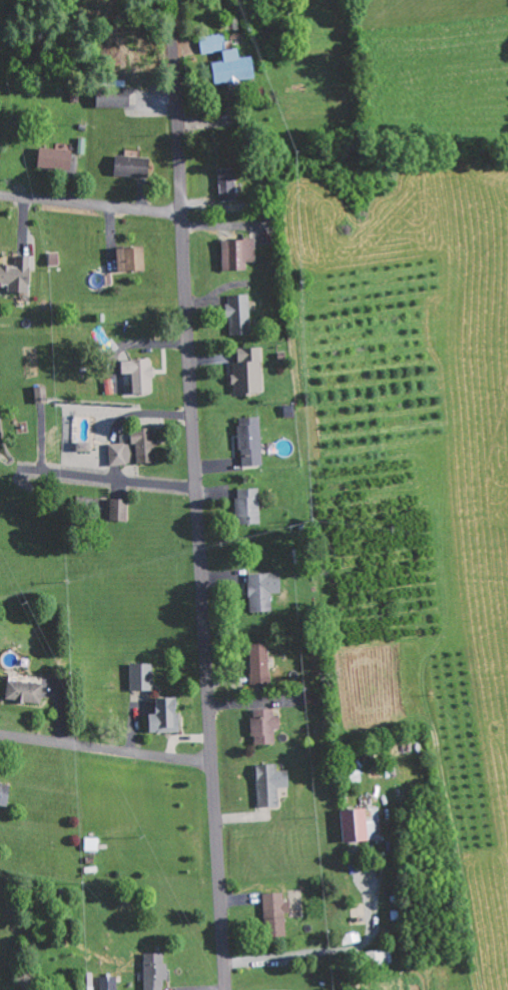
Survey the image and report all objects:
building: (114, 95)
building: (56, 157)
building: (133, 164)
building: (228, 184)
road: (91, 204)
building: (238, 253)
building: (132, 258)
building: (17, 274)
building: (241, 314)
building: (248, 371)
building: (140, 373)
building: (41, 393)
building: (251, 441)
building: (85, 446)
building: (136, 448)
road: (113, 480)
road: (198, 495)
building: (250, 505)
building: (119, 509)
building: (265, 590)
building: (261, 664)
building: (142, 677)
building: (25, 691)
building: (166, 716)
building: (265, 725)
road: (107, 749)
building: (271, 784)
building: (4, 793)
building: (361, 824)
building: (93, 844)
building: (277, 913)
building: (380, 957)
building: (155, 971)
building: (109, 982)

